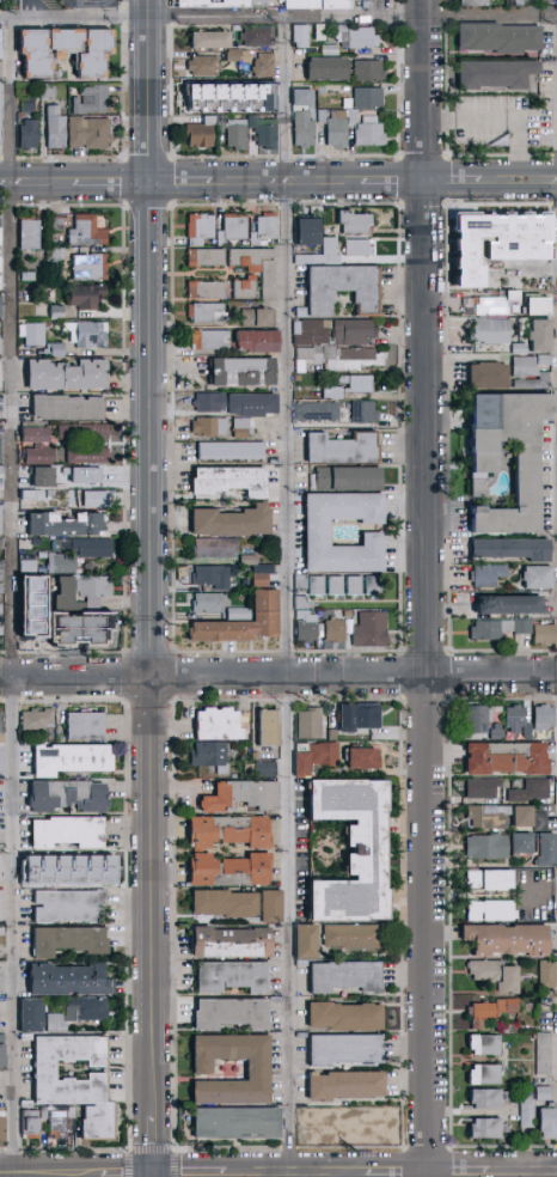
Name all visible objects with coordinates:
building: (171, 2)
building: (188, 2)
building: (201, 2)
building: (222, 2)
building: (253, 2)
building: (516, 2)
building: (476, 4)
road: (90, 5)
building: (302, 5)
building: (335, 5)
road: (154, 8)
road: (29, 10)
road: (278, 18)
building: (322, 32)
building: (259, 37)
building: (302, 37)
building: (359, 38)
building: (500, 38)
building: (213, 41)
building: (67, 42)
building: (1, 44)
building: (332, 51)
building: (37, 55)
building: (97, 55)
building: (235, 56)
building: (267, 66)
building: (207, 67)
building: (330, 69)
building: (1, 71)
building: (369, 72)
building: (497, 75)
building: (323, 90)
building: (49, 92)
building: (228, 94)
building: (305, 98)
building: (371, 99)
building: (94, 100)
building: (349, 104)
building: (30, 106)
building: (1, 115)
building: (323, 117)
building: (354, 117)
building: (222, 123)
building: (57, 129)
building: (305, 130)
building: (338, 130)
building: (265, 132)
building: (91, 134)
building: (202, 134)
building: (371, 134)
building: (30, 135)
building: (239, 135)
road: (277, 185)
building: (318, 212)
building: (495, 221)
building: (60, 224)
building: (356, 224)
building: (539, 224)
building: (202, 230)
building: (234, 230)
building: (0, 232)
building: (88, 232)
building: (267, 232)
building: (310, 233)
building: (31, 234)
building: (361, 249)
building: (486, 250)
building: (332, 251)
building: (524, 251)
building: (546, 251)
building: (57, 256)
building: (208, 260)
building: (250, 260)
building: (305, 260)
building: (92, 268)
building: (0, 275)
building: (30, 278)
building: (491, 278)
building: (265, 279)
building: (246, 288)
building: (208, 291)
building: (344, 291)
building: (88, 298)
building: (490, 305)
building: (1, 307)
building: (539, 307)
building: (59, 313)
building: (208, 315)
building: (259, 319)
building: (491, 333)
building: (313, 334)
building: (355, 334)
building: (35, 335)
building: (90, 335)
building: (541, 337)
building: (258, 343)
building: (1, 347)
building: (521, 350)
building: (56, 352)
building: (341, 359)
building: (546, 361)
building: (521, 365)
building: (245, 373)
building: (69, 377)
building: (1, 378)
building: (490, 378)
building: (353, 388)
building: (216, 403)
building: (68, 410)
building: (245, 411)
building: (319, 413)
building: (274, 414)
building: (366, 414)
building: (210, 427)
building: (269, 427)
building: (245, 428)
building: (85, 433)
building: (39, 447)
building: (345, 450)
building: (0, 451)
building: (232, 452)
building: (90, 457)
building: (530, 464)
building: (86, 476)
building: (45, 478)
building: (348, 481)
building: (232, 483)
building: (33, 498)
building: (91, 500)
building: (1, 524)
building: (234, 524)
building: (69, 527)
building: (319, 542)
building: (1, 545)
building: (86, 548)
building: (216, 549)
building: (514, 551)
building: (250, 557)
road: (152, 561)
building: (63, 565)
building: (30, 569)
building: (264, 571)
building: (1, 572)
building: (489, 577)
building: (539, 578)
building: (214, 579)
building: (36, 583)
building: (262, 583)
building: (302, 584)
building: (318, 587)
building: (337, 587)
building: (356, 587)
building: (374, 587)
road: (428, 587)
building: (2, 590)
building: (97, 591)
road: (12, 597)
road: (292, 597)
building: (69, 598)
building: (213, 603)
building: (512, 606)
building: (240, 616)
building: (37, 617)
building: (1, 621)
building: (245, 624)
building: (56, 626)
building: (94, 627)
building: (308, 628)
building: (525, 628)
building: (337, 632)
building: (372, 632)
building: (492, 632)
building: (545, 636)
road: (277, 677)
building: (360, 715)
building: (481, 718)
building: (545, 718)
building: (516, 719)
building: (41, 722)
building: (1, 724)
building: (310, 724)
building: (219, 725)
building: (86, 726)
building: (270, 727)
building: (498, 732)
building: (332, 736)
building: (2, 739)
building: (324, 754)
building: (212, 756)
building: (361, 757)
building: (72, 758)
building: (508, 758)
building: (1, 761)
building: (301, 761)
building: (262, 769)
building: (484, 788)
building: (534, 791)
building: (68, 797)
building: (243, 797)
building: (525, 817)
building: (490, 818)
building: (543, 822)
building: (71, 833)
building: (524, 843)
building: (489, 847)
building: (200, 850)
building: (351, 850)
building: (547, 850)
building: (0, 868)
building: (71, 870)
building: (491, 880)
building: (226, 904)
building: (69, 907)
building: (274, 907)
building: (0, 909)
building: (492, 911)
building: (2, 932)
building: (354, 937)
building: (508, 940)
building: (69, 941)
building: (234, 943)
building: (308, 943)
building: (496, 975)
building: (547, 975)
building: (233, 977)
building: (347, 977)
building: (68, 981)
building: (1, 982)
building: (491, 1012)
building: (78, 1013)
building: (233, 1014)
building: (32, 1017)
building: (347, 1017)
building: (512, 1029)
building: (2, 1039)
building: (484, 1045)
building: (347, 1050)
building: (544, 1054)
building: (2, 1057)
building: (259, 1067)
building: (485, 1075)
building: (78, 1083)
building: (347, 1086)
building: (545, 1094)
building: (486, 1099)
building: (45, 1114)
building: (528, 1114)
building: (62, 1122)
building: (549, 1123)
building: (239, 1124)
building: (31, 1126)
building: (366, 1126)
building: (2, 1128)
building: (307, 1130)
building: (485, 1130)
road: (153, 1139)
road: (42, 1171)
road: (118, 1171)
road: (185, 1171)
road: (289, 1171)
road: (394, 1171)
road: (461, 1171)
road: (526, 1171)
traffic signals: (153, 1172)
road: (153, 1175)

